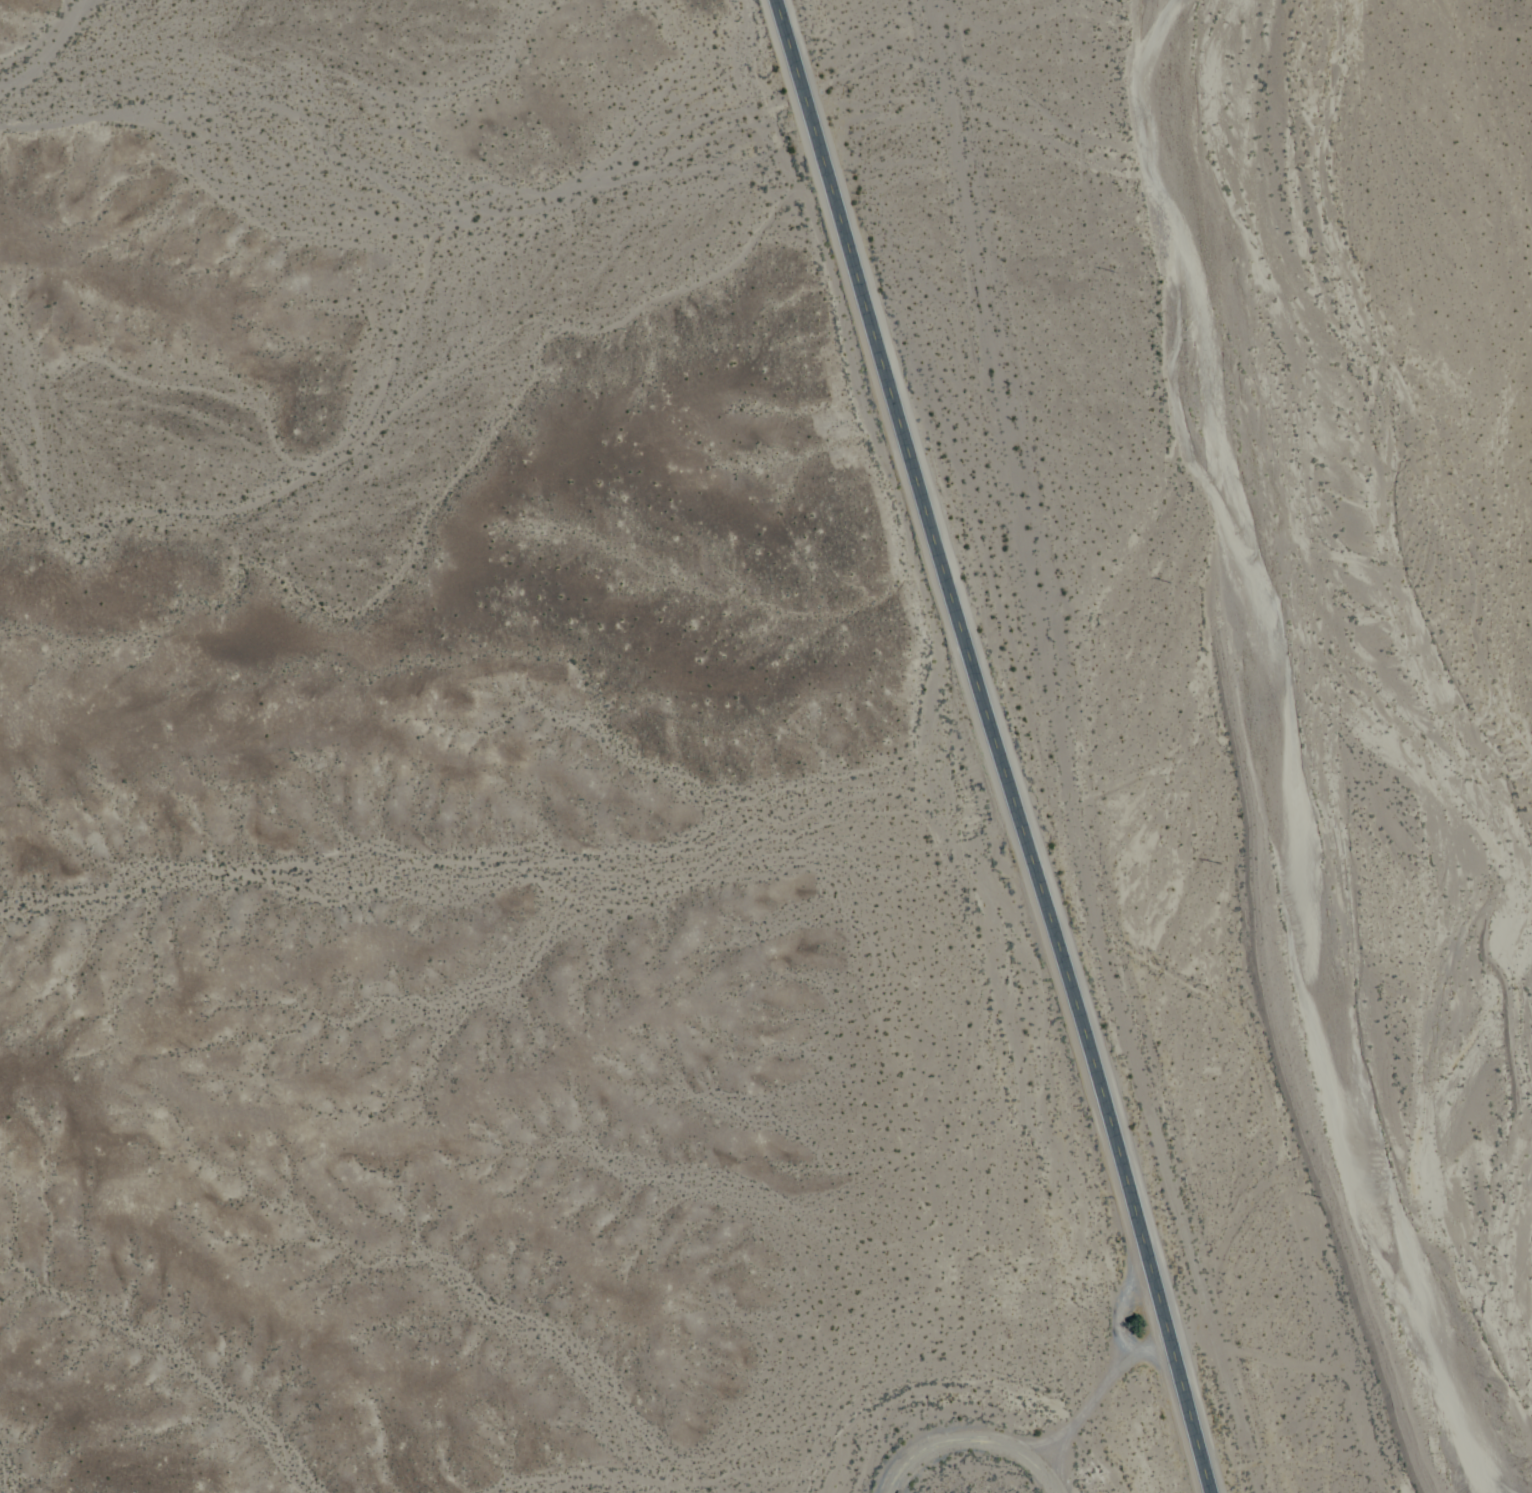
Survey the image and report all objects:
river: (1428, 739)
road: (996, 746)
quarry: (987, 1438)

